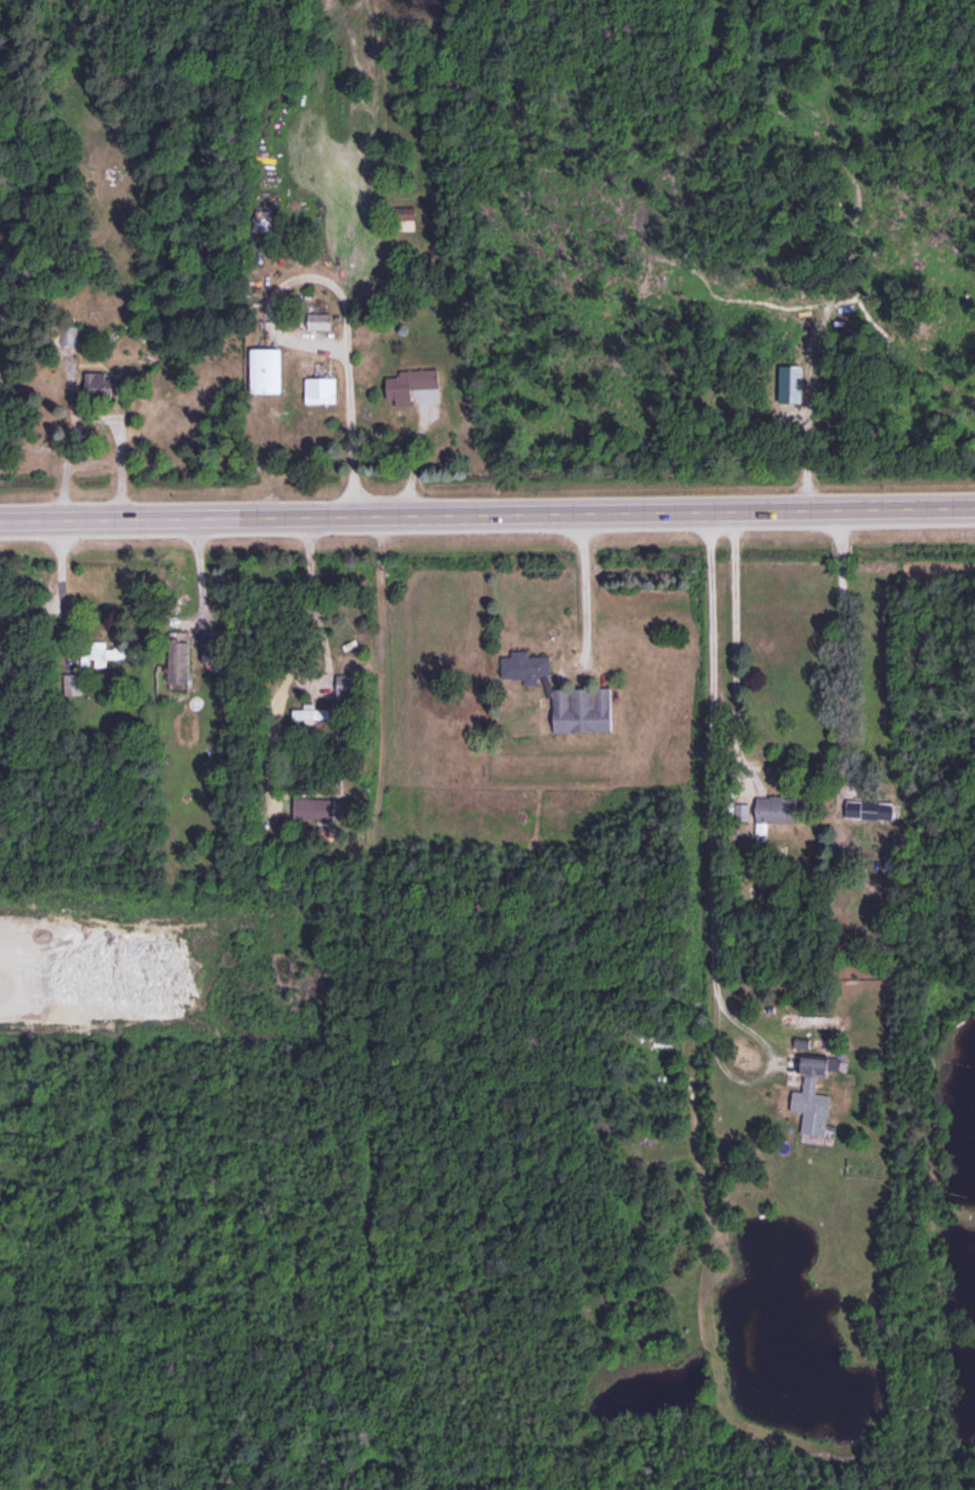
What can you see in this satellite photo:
building: (264, 219)
building: (136, 355)
building: (267, 369)
building: (99, 379)
building: (411, 382)
road: (97, 417)
road: (351, 428)
road: (413, 456)
road: (487, 509)
road: (196, 567)
road: (582, 584)
road: (731, 644)
building: (99, 652)
building: (179, 659)
building: (524, 664)
building: (581, 708)
building: (314, 712)
building: (314, 806)
building: (861, 806)
building: (767, 807)
road: (709, 855)
building: (812, 1093)

